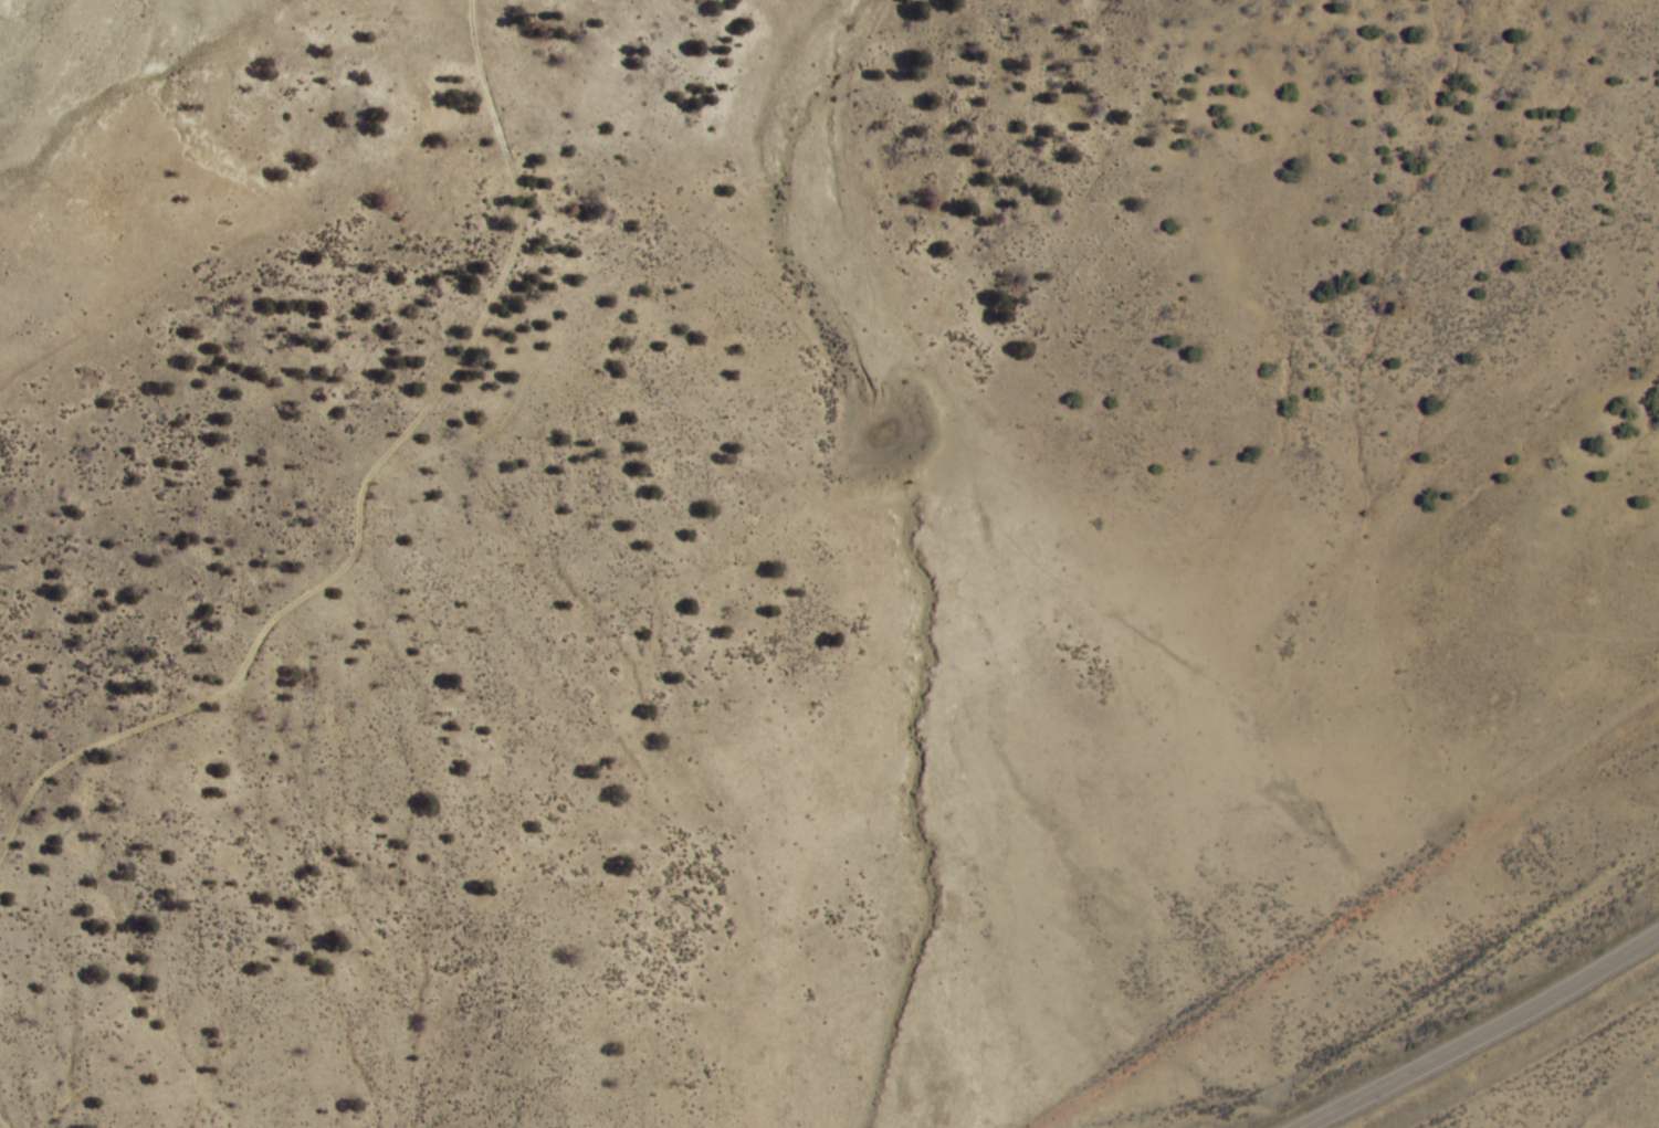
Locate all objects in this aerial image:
road: (1479, 1031)

